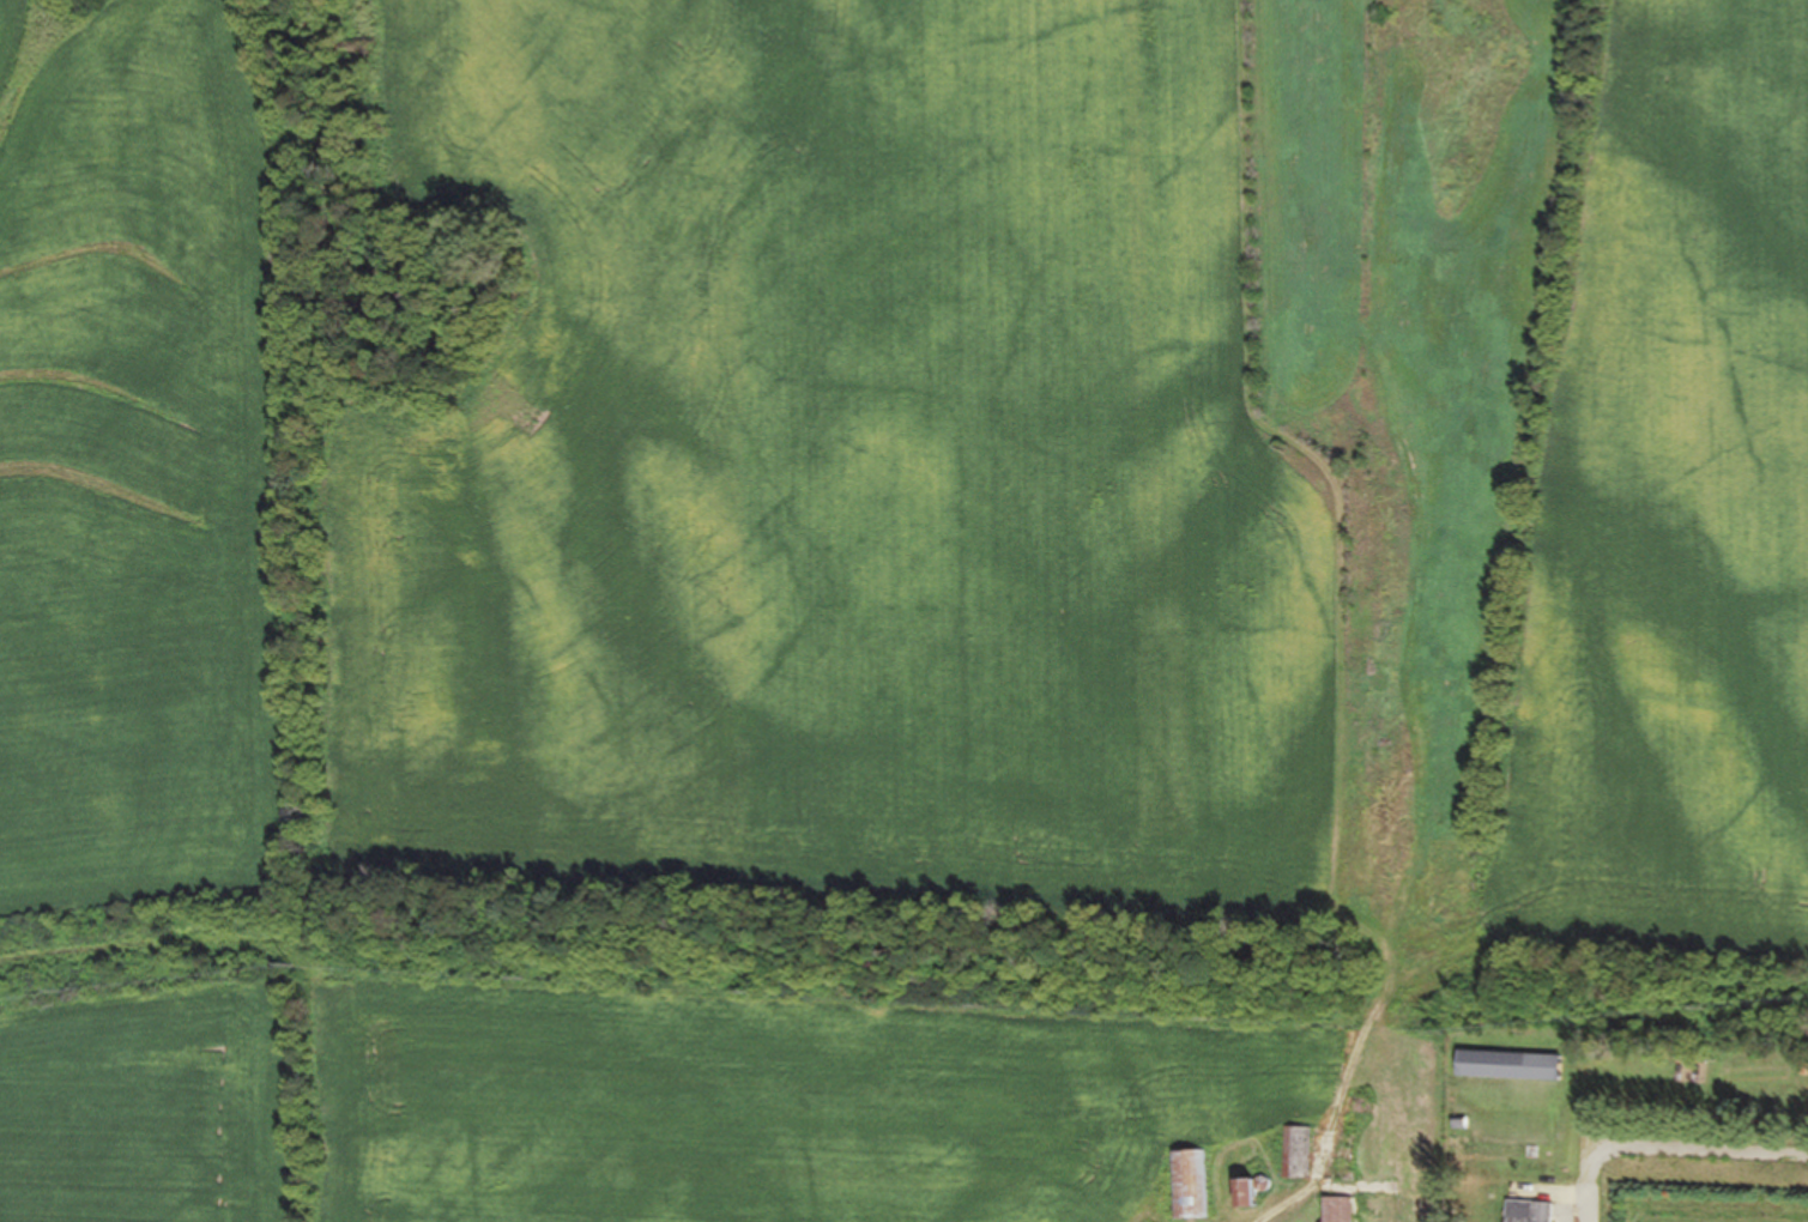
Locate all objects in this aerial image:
road: (1329, 627)
building: (1506, 1066)
building: (1686, 1073)
road: (1665, 1147)
building: (1298, 1154)
building: (1187, 1185)
building: (1241, 1193)
building: (1335, 1210)
building: (1525, 1211)

